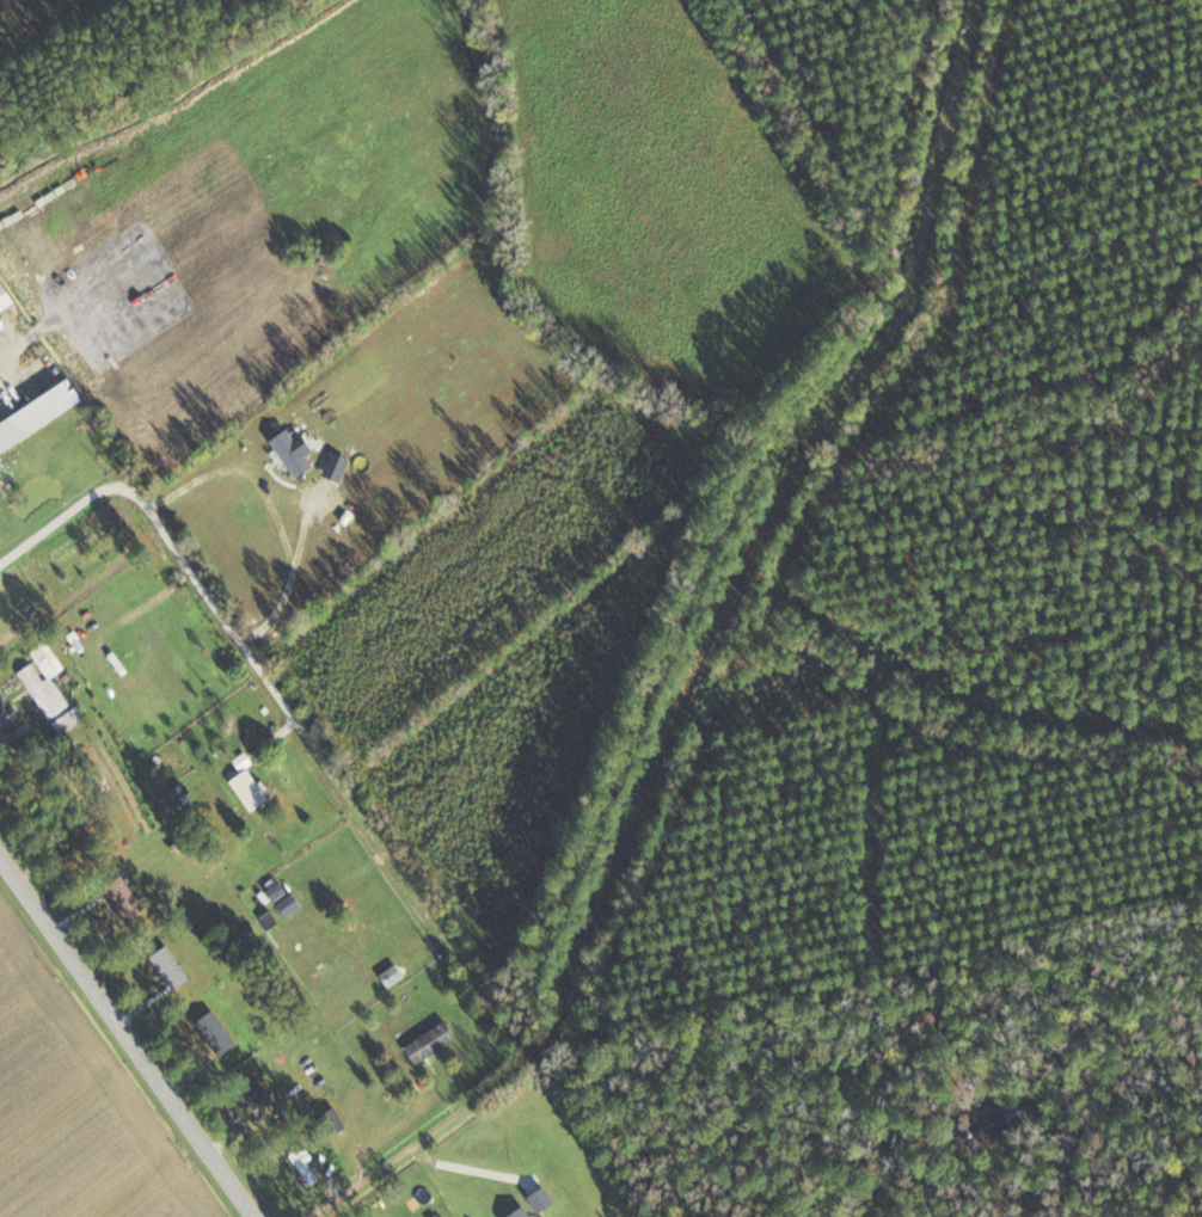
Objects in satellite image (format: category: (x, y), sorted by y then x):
building: (4, 299)
building: (10, 435)
road: (270, 508)
road: (60, 515)
road: (700, 656)
building: (44, 684)
building: (5, 713)
building: (68, 720)
road: (330, 766)
building: (121, 898)
building: (167, 969)
road: (127, 1031)
building: (214, 1033)
building: (428, 1043)
building: (253, 1092)
building: (330, 1121)
building: (996, 1121)
building: (302, 1167)
road: (468, 1169)
building: (519, 1212)

